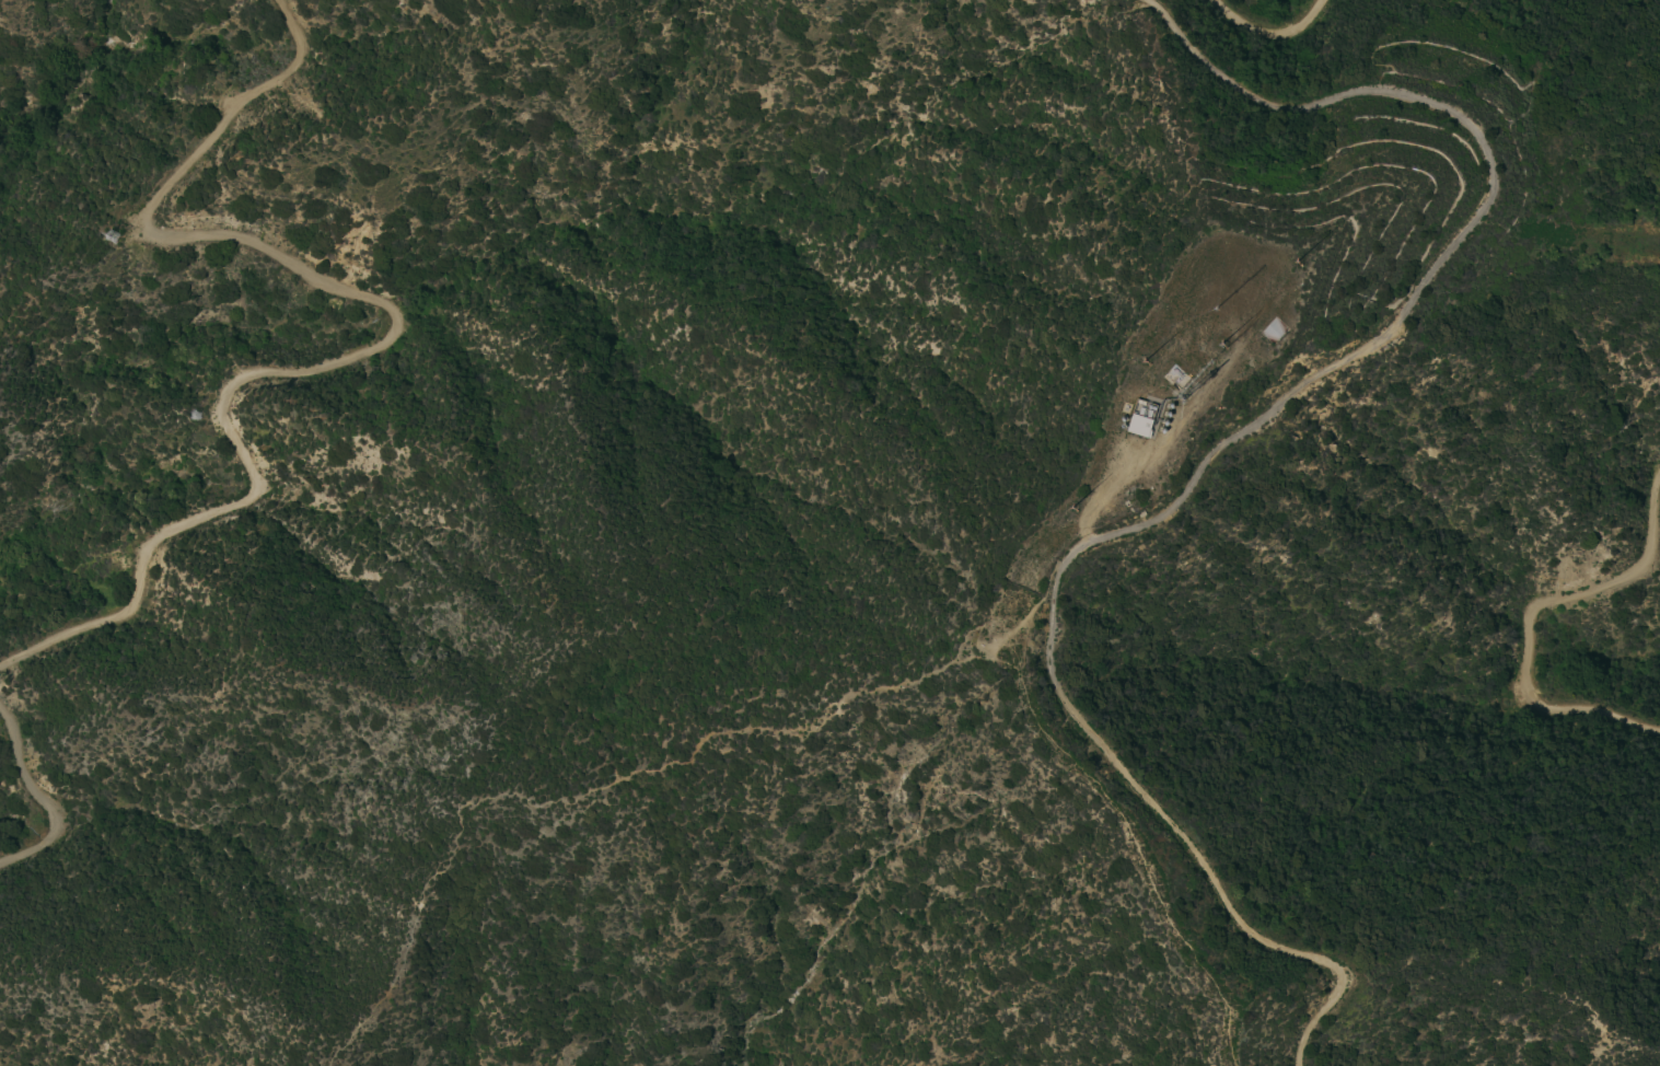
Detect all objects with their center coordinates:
road: (1268, 38)
power tower: (108, 222)
road: (1413, 296)
road: (384, 346)
building: (1174, 379)
building: (195, 416)
building: (1139, 426)
road: (1528, 621)
road: (631, 768)
road: (40, 798)
road: (1215, 884)

